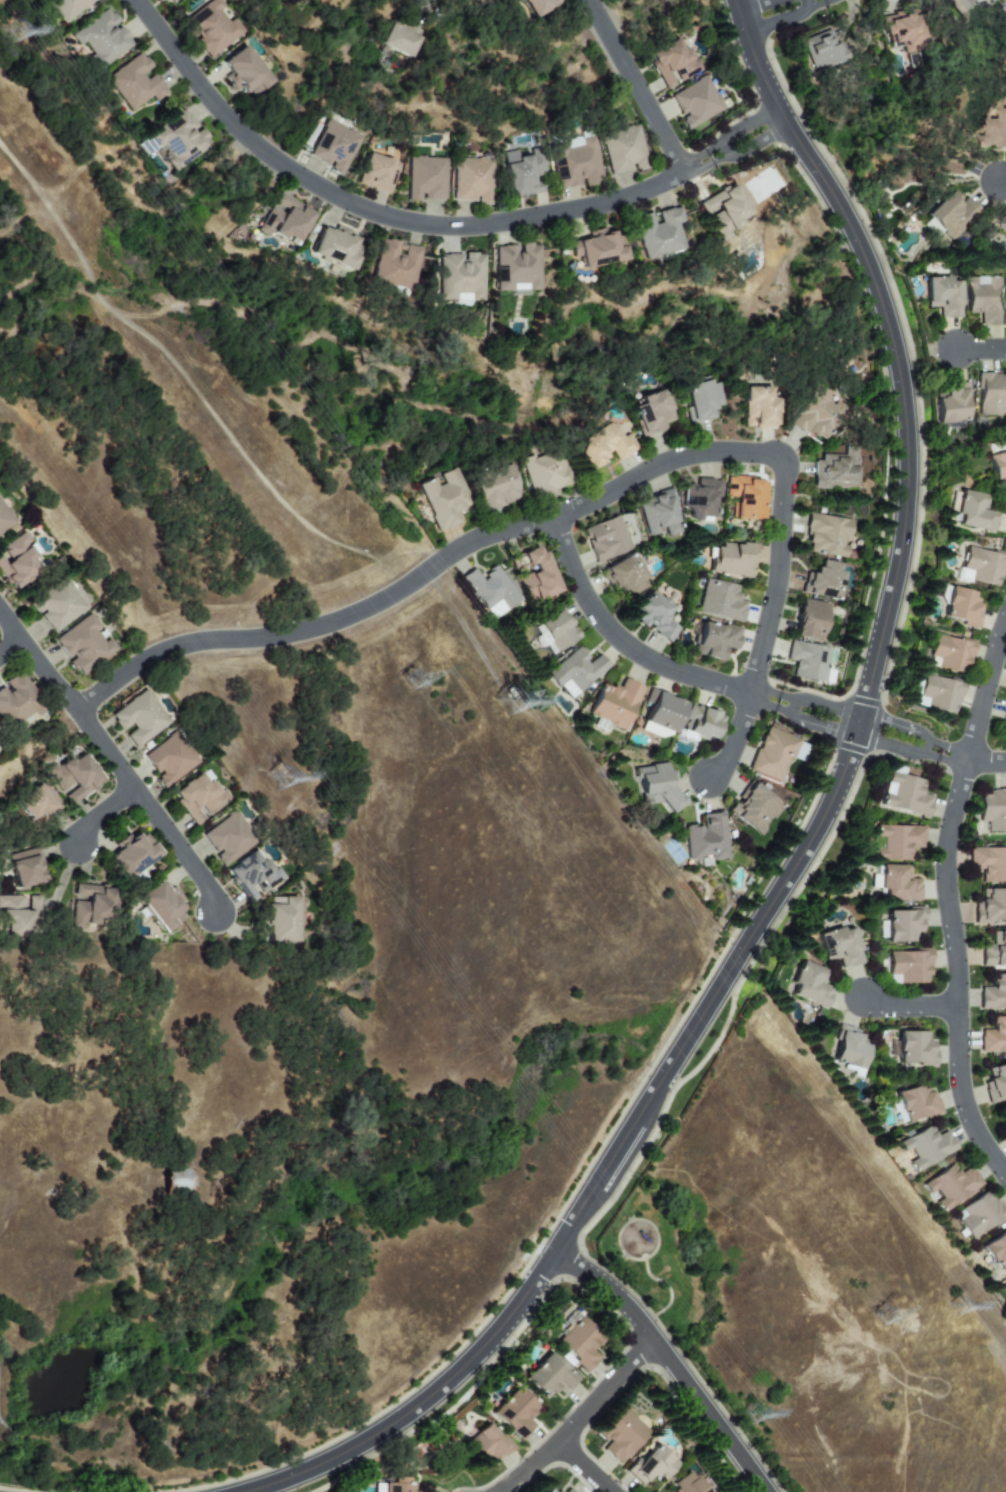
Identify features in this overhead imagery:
building: (167, 0)
building: (178, 0)
building: (990, 0)
road: (421, 4)
building: (537, 6)
building: (67, 7)
road: (780, 13)
building: (969, 14)
building: (211, 28)
building: (904, 31)
power tower: (11, 34)
building: (101, 38)
building: (398, 41)
building: (820, 49)
building: (671, 63)
building: (244, 72)
building: (135, 83)
road: (639, 87)
building: (697, 103)
building: (993, 134)
building: (179, 140)
building: (334, 147)
building: (623, 150)
building: (573, 162)
building: (376, 173)
building: (521, 173)
building: (425, 179)
building: (471, 180)
road: (1003, 181)
building: (724, 211)
building: (949, 216)
building: (285, 220)
road: (427, 226)
building: (1004, 230)
building: (658, 233)
building: (336, 246)
building: (598, 247)
building: (395, 265)
building: (517, 267)
building: (459, 276)
building: (940, 296)
building: (983, 300)
road: (981, 352)
building: (991, 393)
building: (701, 400)
building: (950, 406)
building: (758, 408)
building: (650, 412)
building: (817, 416)
building: (602, 445)
building: (997, 470)
building: (835, 471)
building: (542, 472)
building: (495, 488)
building: (745, 497)
building: (444, 499)
building: (700, 499)
building: (970, 513)
building: (659, 514)
building: (5, 517)
road: (533, 525)
building: (828, 535)
building: (606, 539)
building: (732, 560)
building: (17, 562)
building: (979, 567)
building: (625, 575)
building: (536, 576)
building: (824, 580)
building: (490, 591)
building: (721, 601)
building: (57, 605)
building: (957, 609)
building: (654, 616)
building: (810, 620)
building: (555, 632)
building: (715, 640)
building: (83, 645)
road: (11, 650)
building: (946, 655)
road: (39, 662)
building: (810, 662)
road: (672, 670)
building: (576, 672)
power tower: (411, 681)
building: (933, 696)
building: (16, 702)
building: (614, 704)
power tower: (507, 705)
building: (661, 715)
building: (1003, 717)
building: (139, 718)
building: (700, 722)
building: (1005, 733)
road: (738, 742)
road: (933, 750)
building: (773, 755)
building: (169, 760)
power tower: (278, 776)
building: (73, 777)
building: (654, 786)
building: (905, 795)
building: (198, 798)
building: (36, 803)
building: (755, 809)
building: (990, 810)
road: (153, 813)
road: (105, 816)
road: (818, 835)
building: (228, 838)
building: (706, 838)
building: (897, 841)
building: (131, 855)
building: (988, 863)
building: (27, 868)
building: (252, 876)
building: (898, 884)
road: (947, 899)
building: (90, 906)
building: (162, 906)
building: (994, 906)
building: (19, 914)
building: (281, 920)
building: (901, 926)
building: (839, 946)
building: (994, 951)
building: (905, 968)
building: (810, 985)
building: (993, 994)
road: (910, 1007)
building: (993, 1037)
building: (849, 1048)
building: (911, 1051)
building: (995, 1084)
building: (913, 1105)
building: (1003, 1127)
building: (924, 1149)
building: (949, 1187)
building: (977, 1216)
building: (995, 1250)
building: (1004, 1286)
power tower: (959, 1310)
power tower: (884, 1315)
building: (580, 1343)
road: (675, 1363)
building: (549, 1377)
building: (515, 1414)
power tower: (753, 1416)
road: (587, 1420)
building: (621, 1435)
building: (488, 1444)
building: (652, 1465)
road: (589, 1469)
building: (689, 1484)
building: (396, 1485)
building: (550, 1490)
building: (568, 1491)

